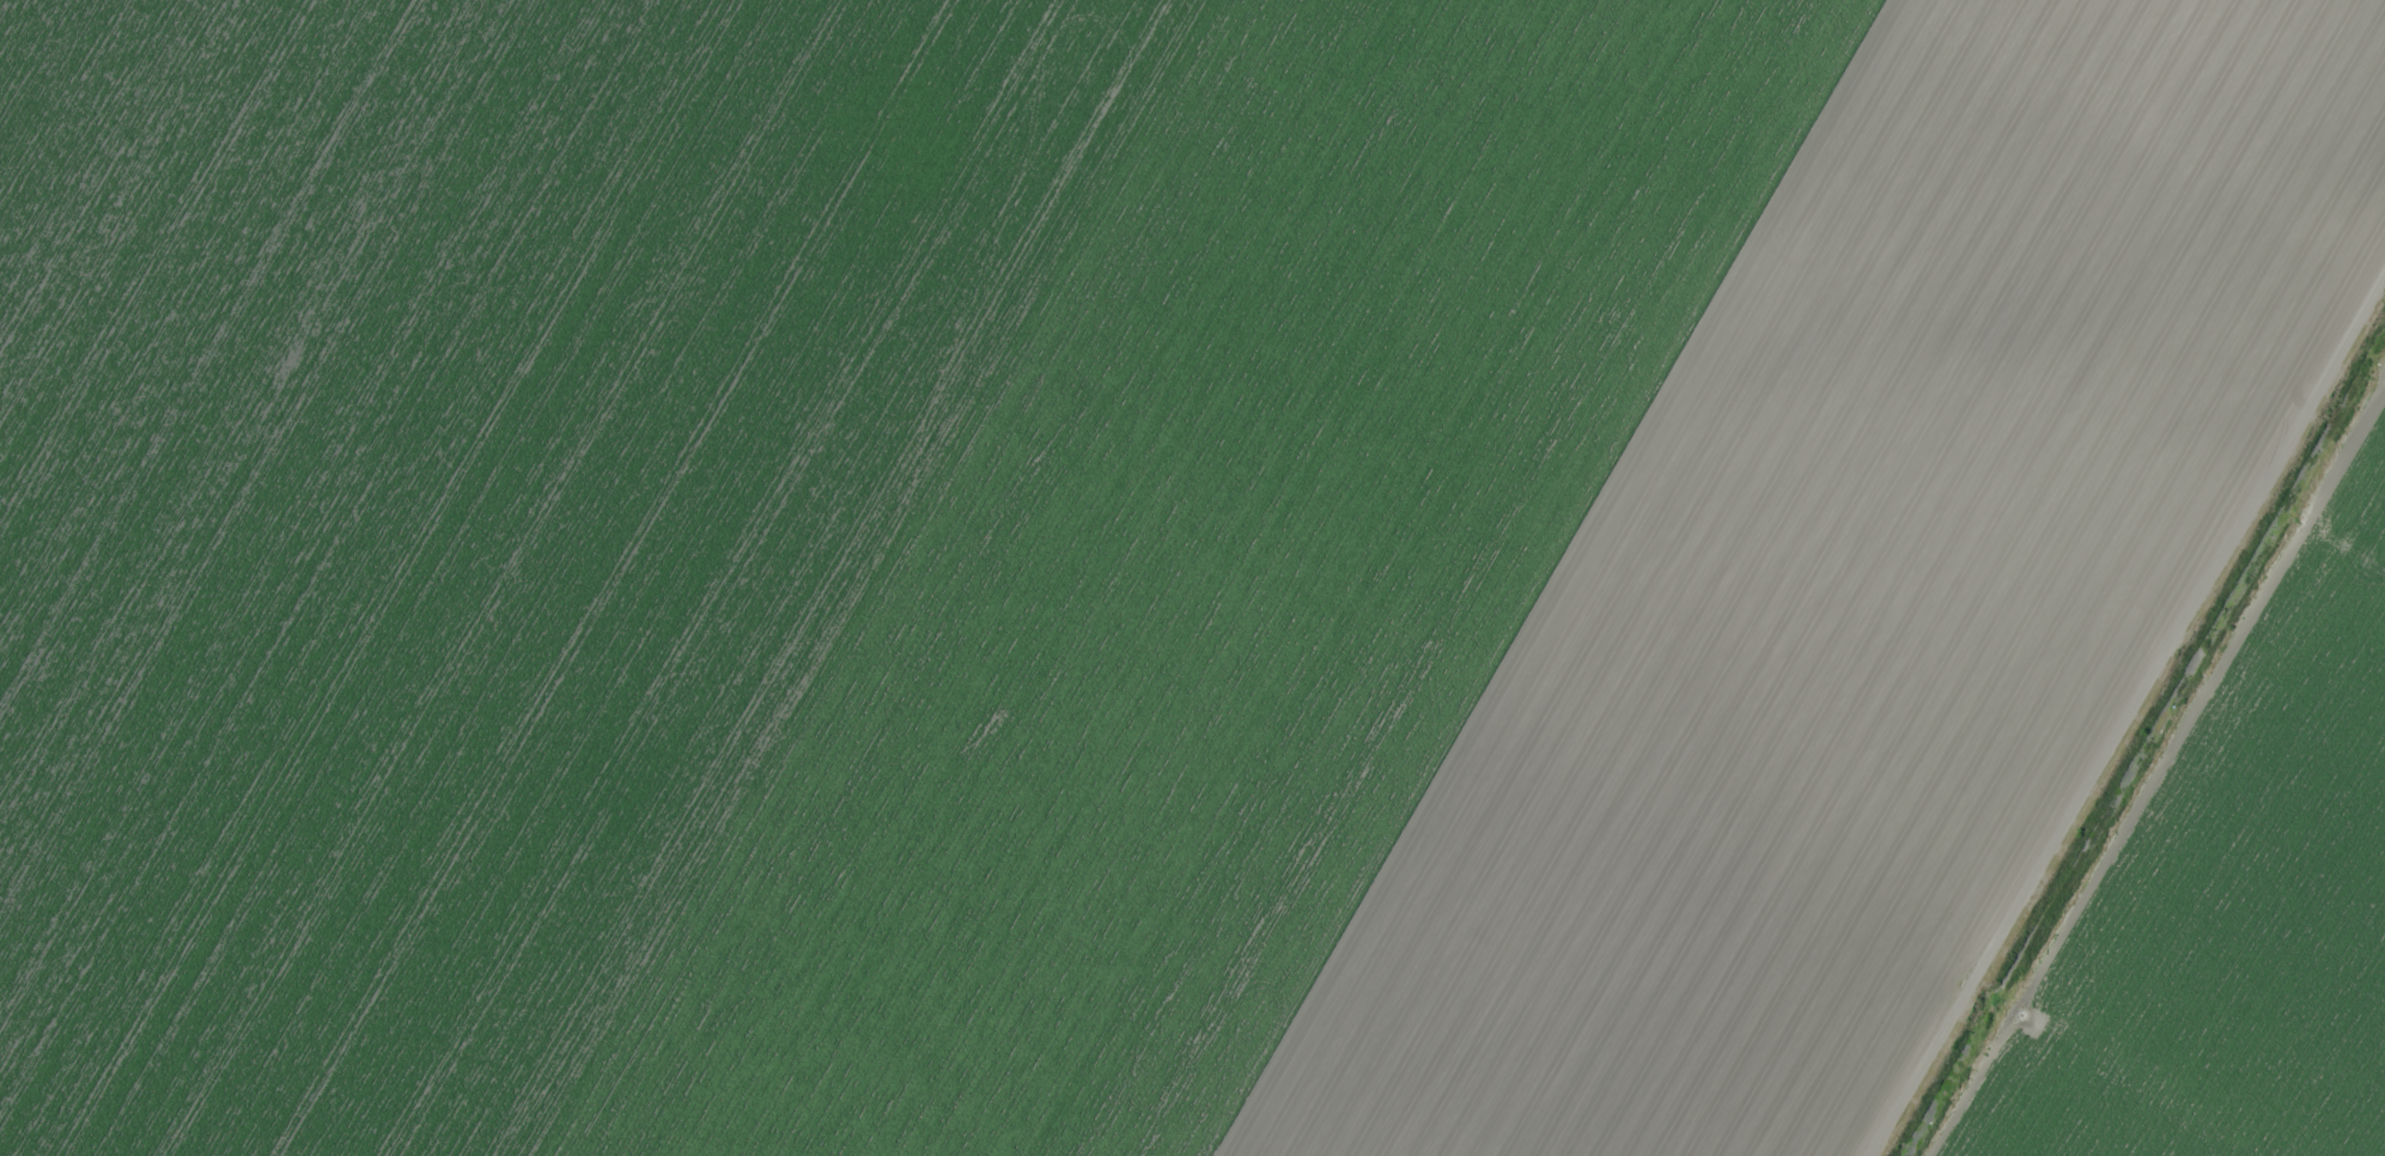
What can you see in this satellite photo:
road: (2127, 720)

